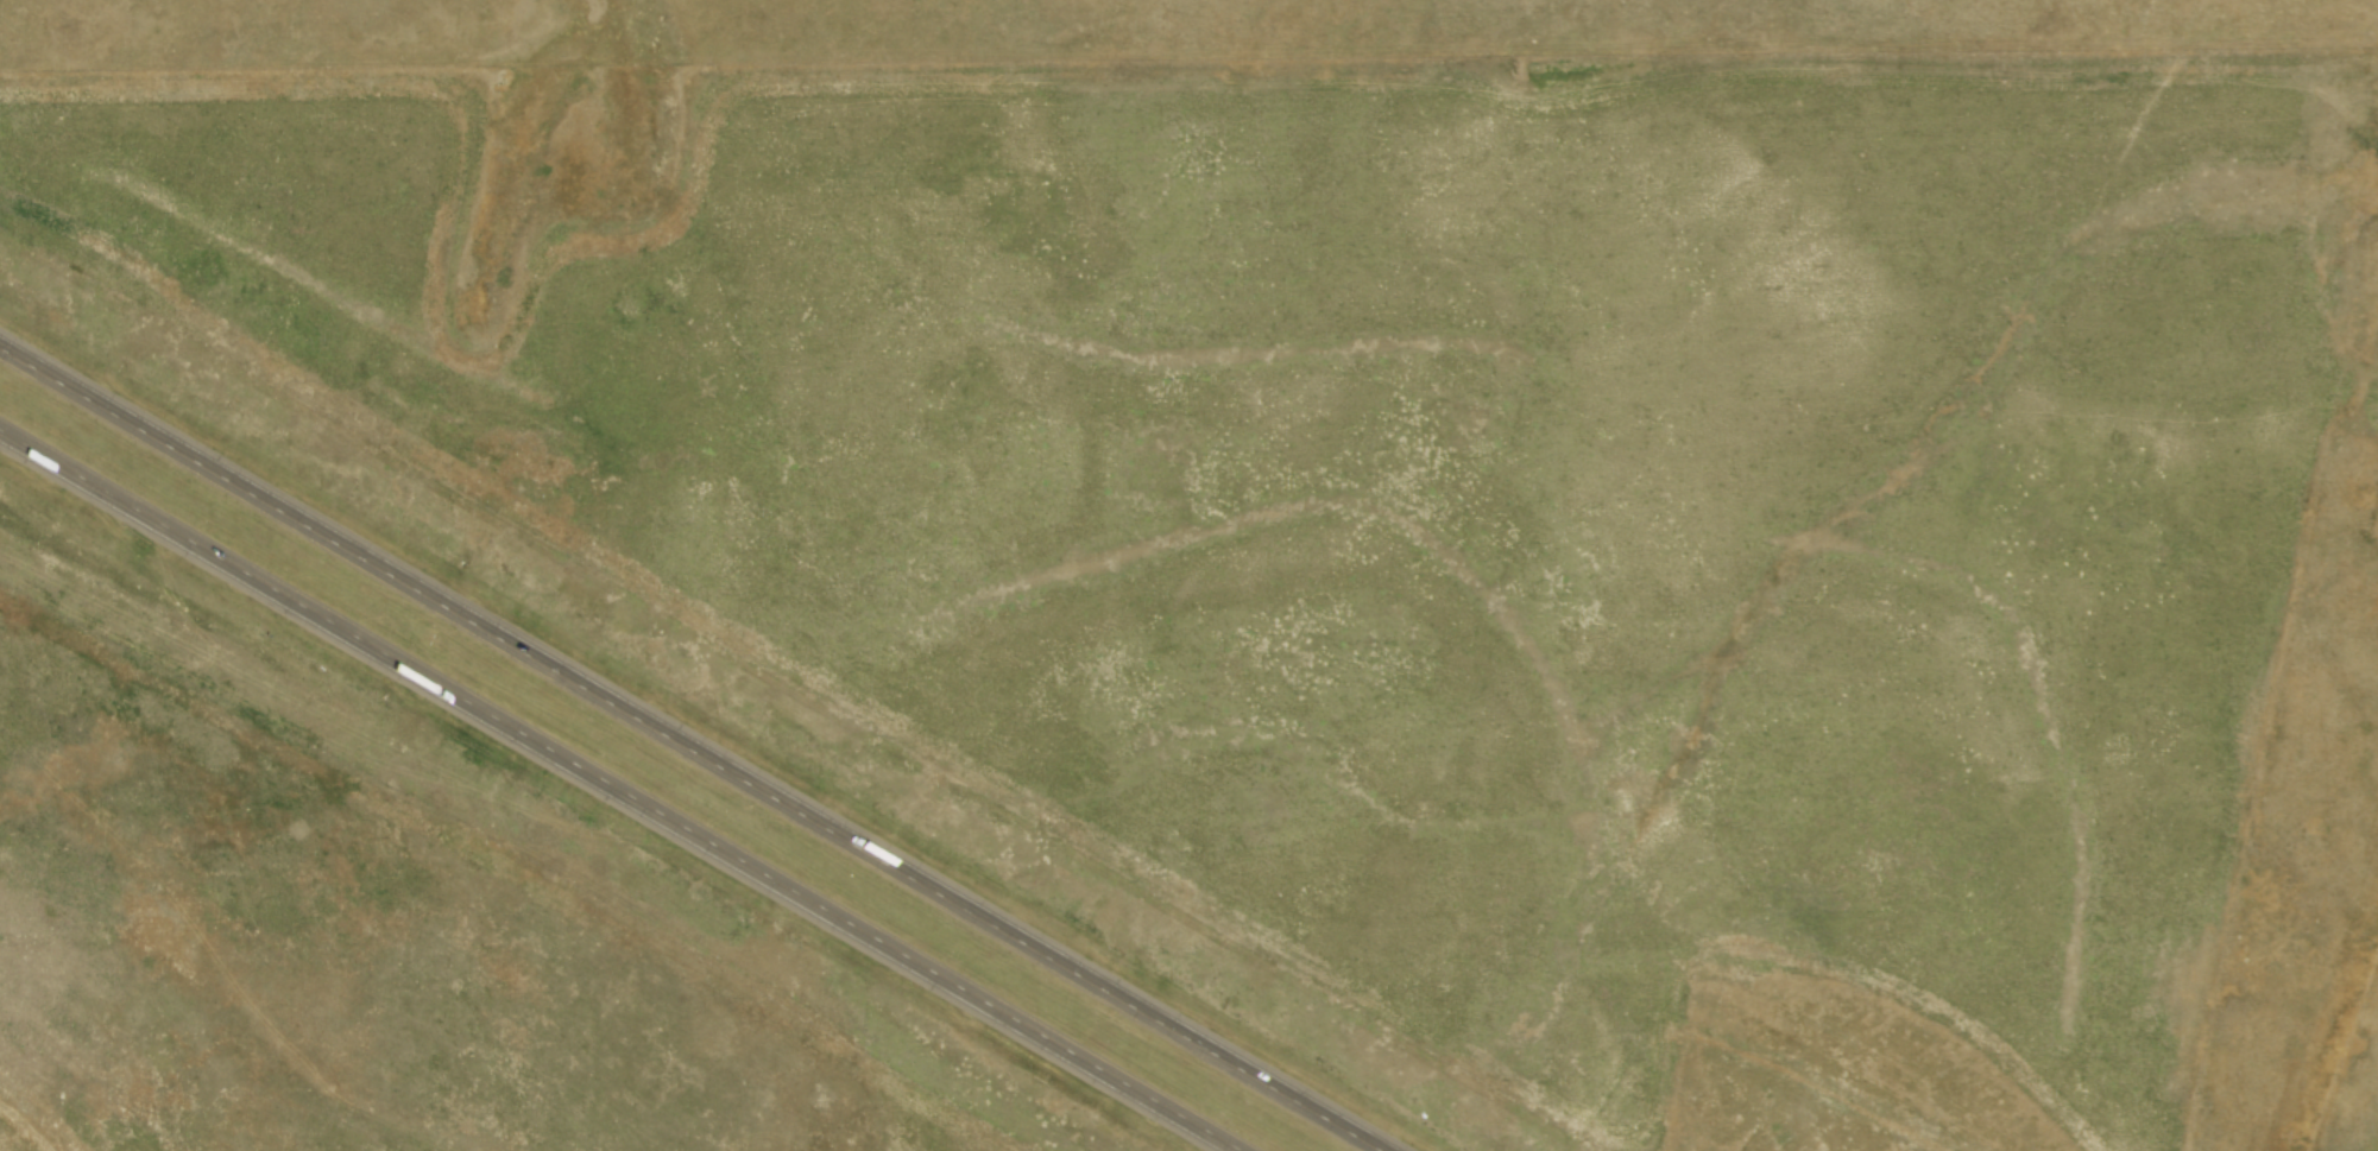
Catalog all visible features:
road: (690, 746)
road: (619, 789)

